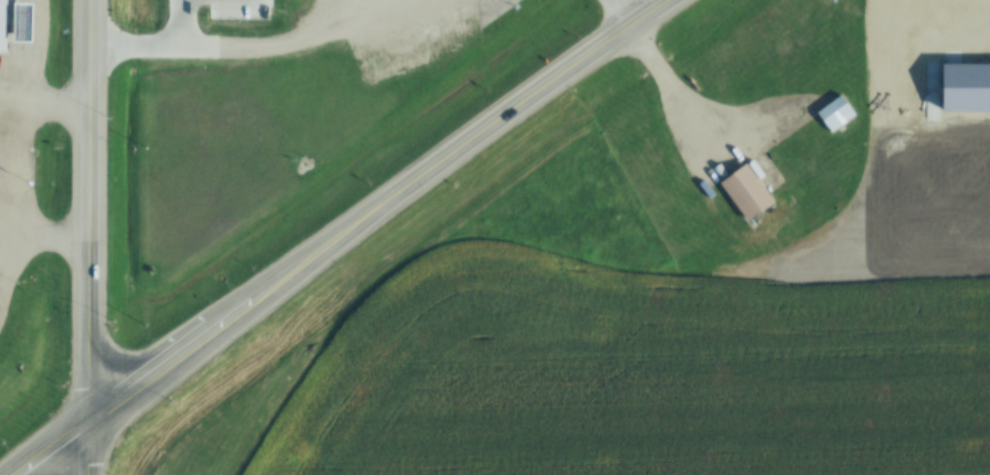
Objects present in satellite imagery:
road: (625, 15)
building: (26, 24)
building: (4, 27)
road: (253, 52)
road: (679, 88)
building: (838, 114)
road: (442, 164)
building: (749, 194)
road: (97, 211)
road: (189, 353)
road: (132, 396)
road: (62, 449)
road: (97, 449)

